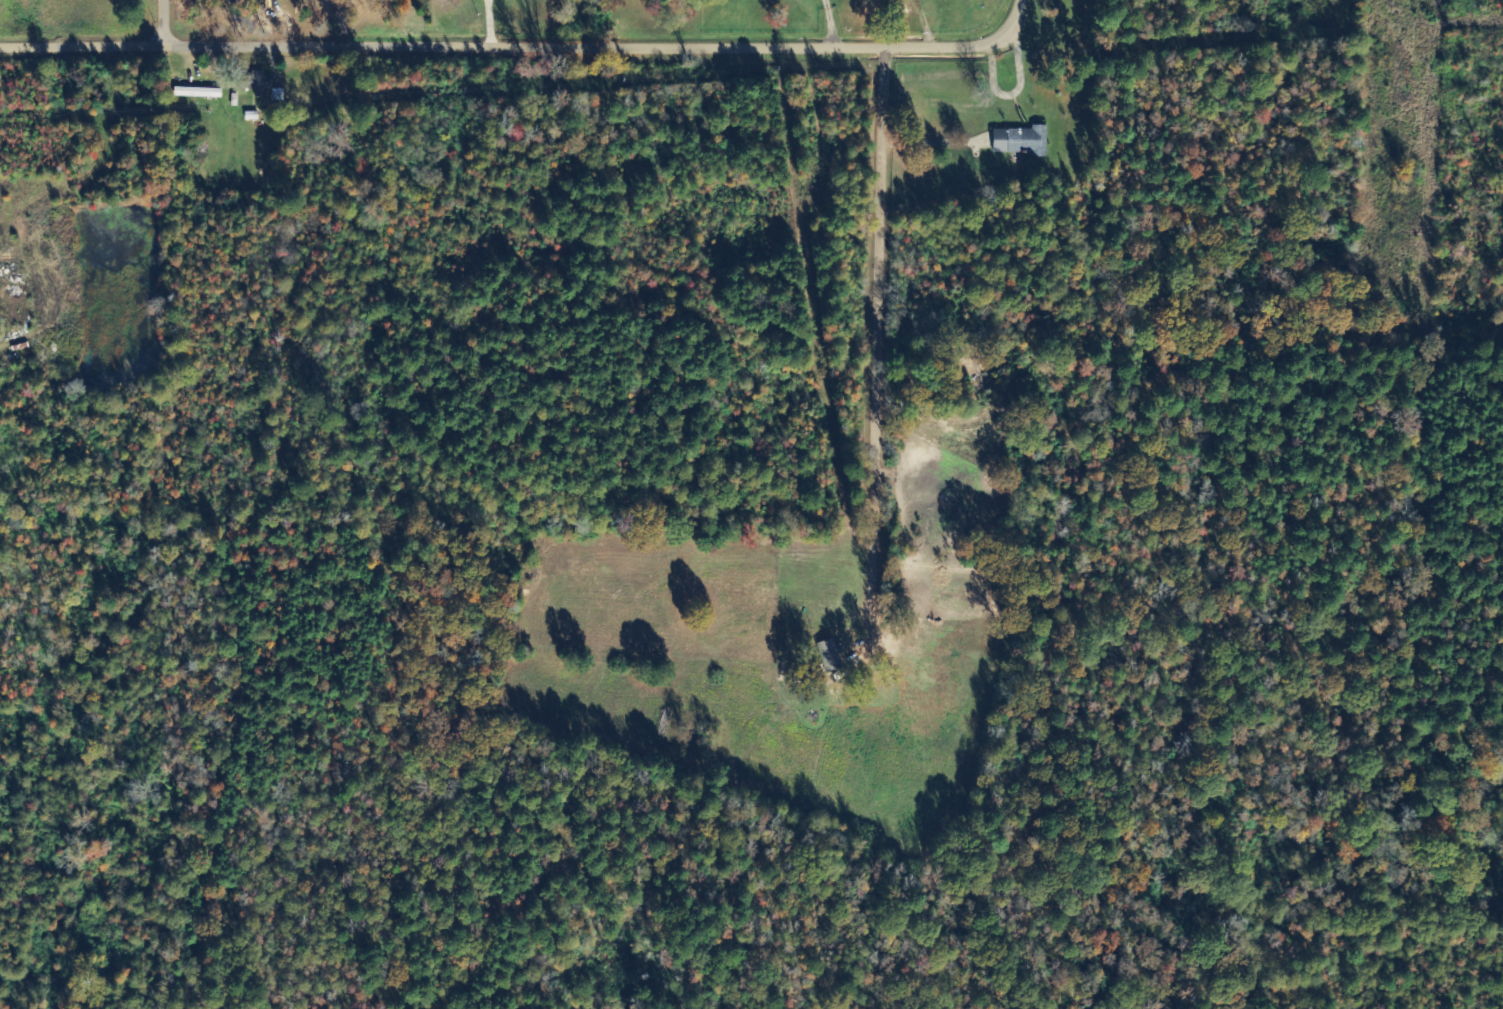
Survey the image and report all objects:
road: (162, 21)
road: (81, 44)
road: (607, 44)
building: (256, 83)
building: (1021, 141)
road: (45, 164)
road: (904, 375)
building: (830, 655)

